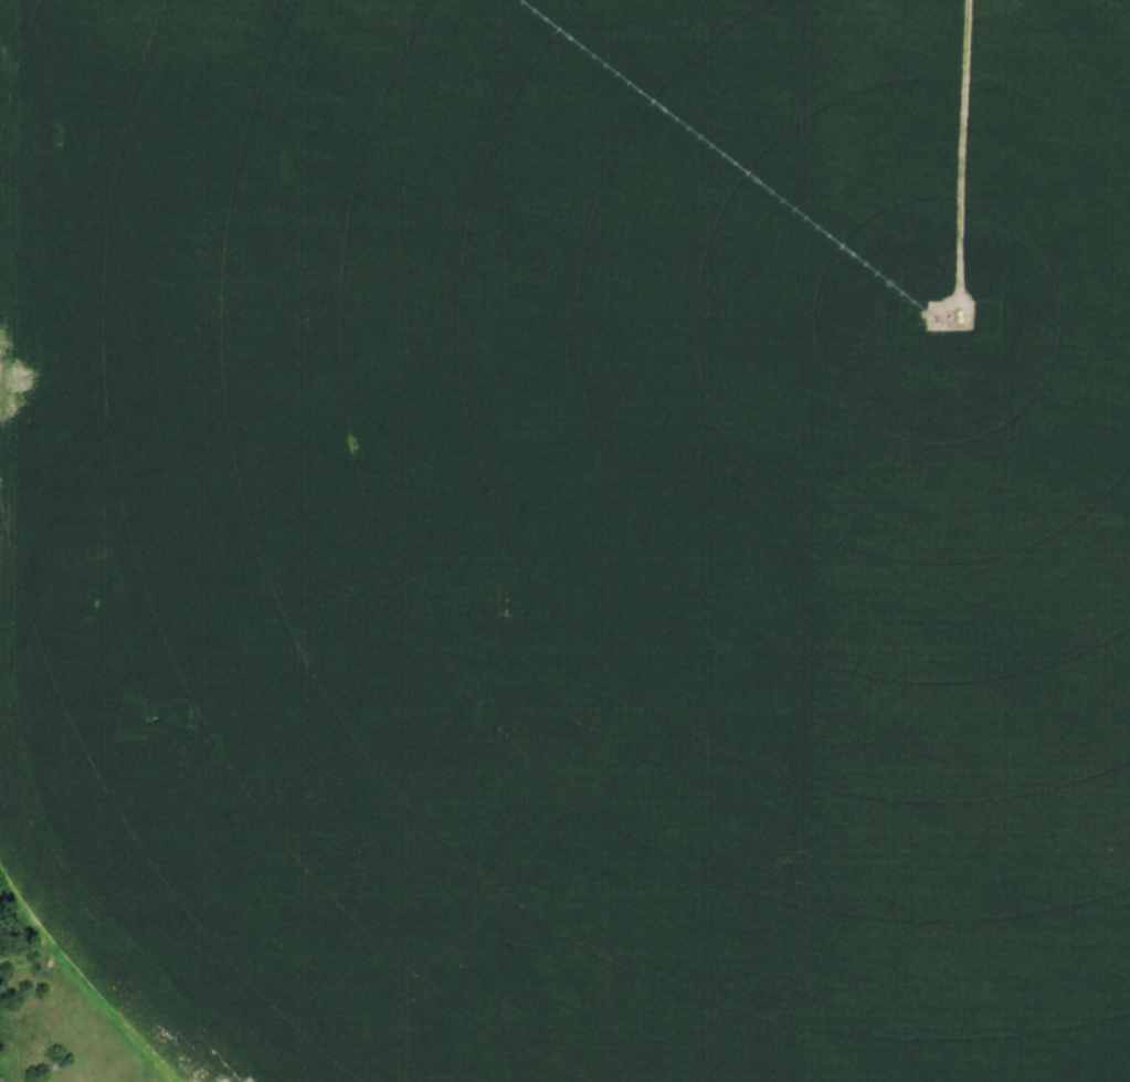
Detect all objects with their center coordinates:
building: (94, 508)

